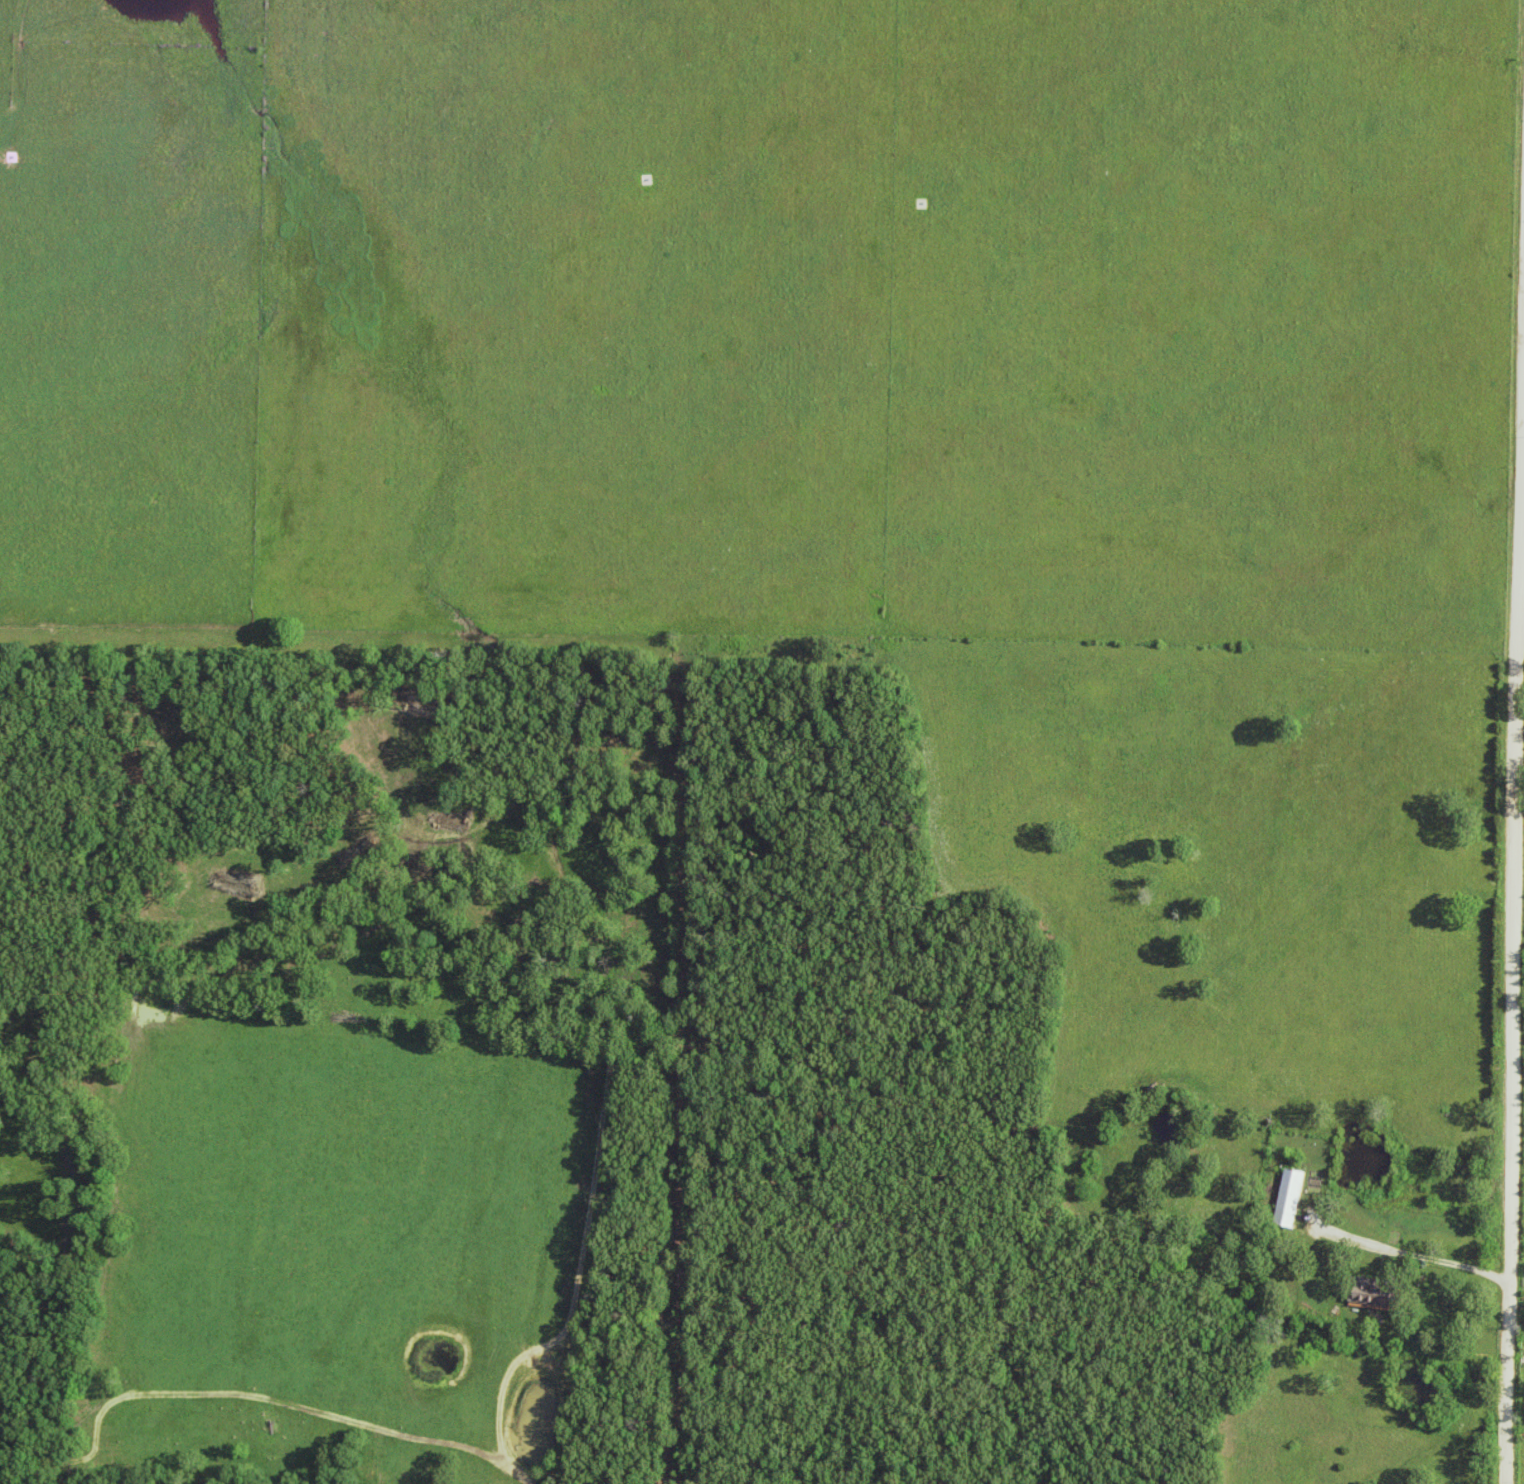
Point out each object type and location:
road: (1517, 1058)
building: (1288, 1199)
road: (1415, 1246)
building: (1369, 1298)

